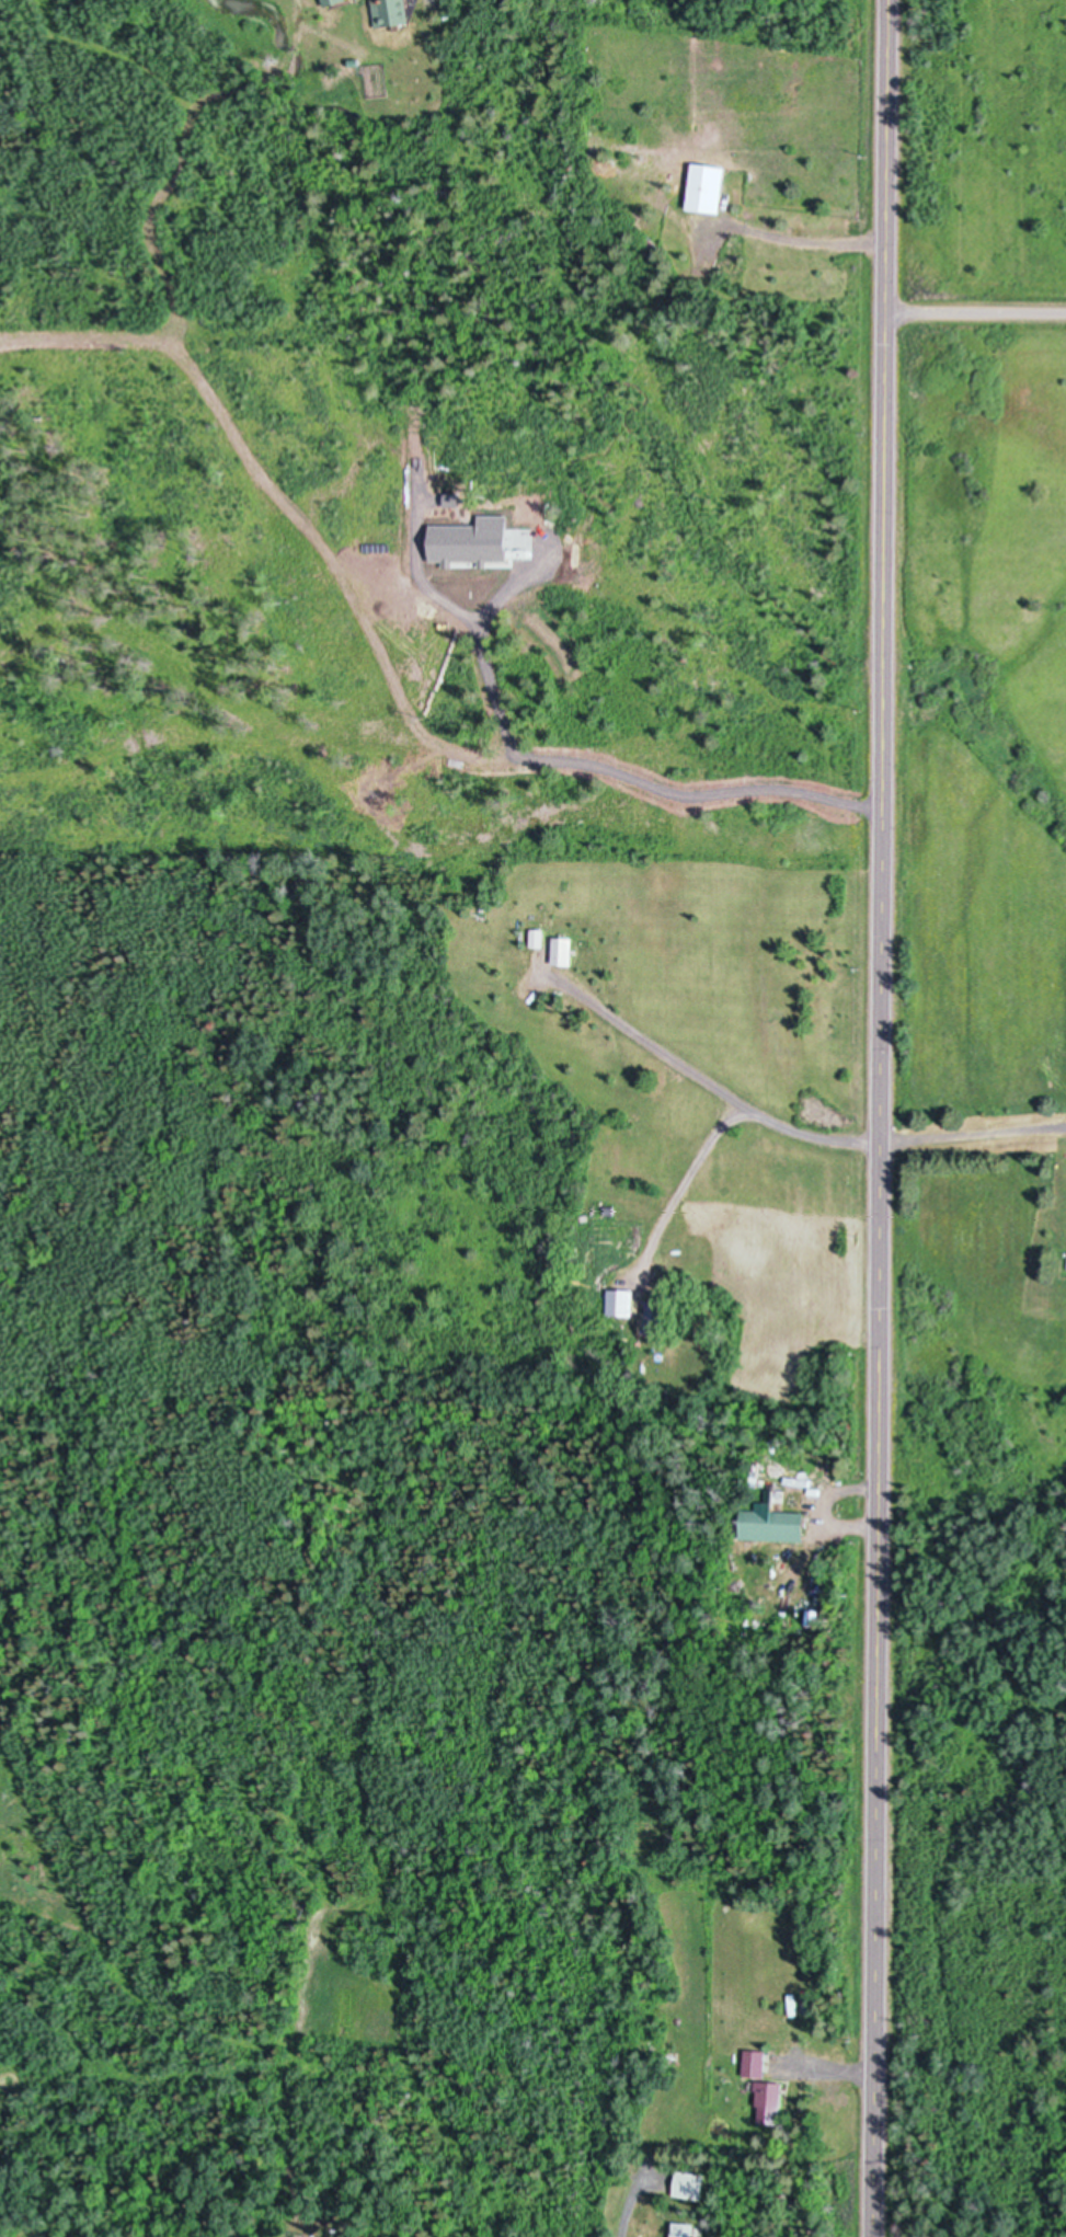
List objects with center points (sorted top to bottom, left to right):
building: (329, 1)
building: (389, 11)
building: (706, 185)
road: (796, 242)
road: (975, 316)
building: (536, 937)
building: (561, 952)
road: (879, 1117)
road: (788, 1128)
road: (687, 1182)
building: (589, 1267)
building: (620, 1301)
building: (655, 1316)
building: (770, 1522)
building: (812, 1618)
building: (637, 2047)
building: (753, 2064)
building: (767, 2101)
building: (688, 2186)
road: (626, 2214)
building: (681, 2230)
building: (346, 2236)

